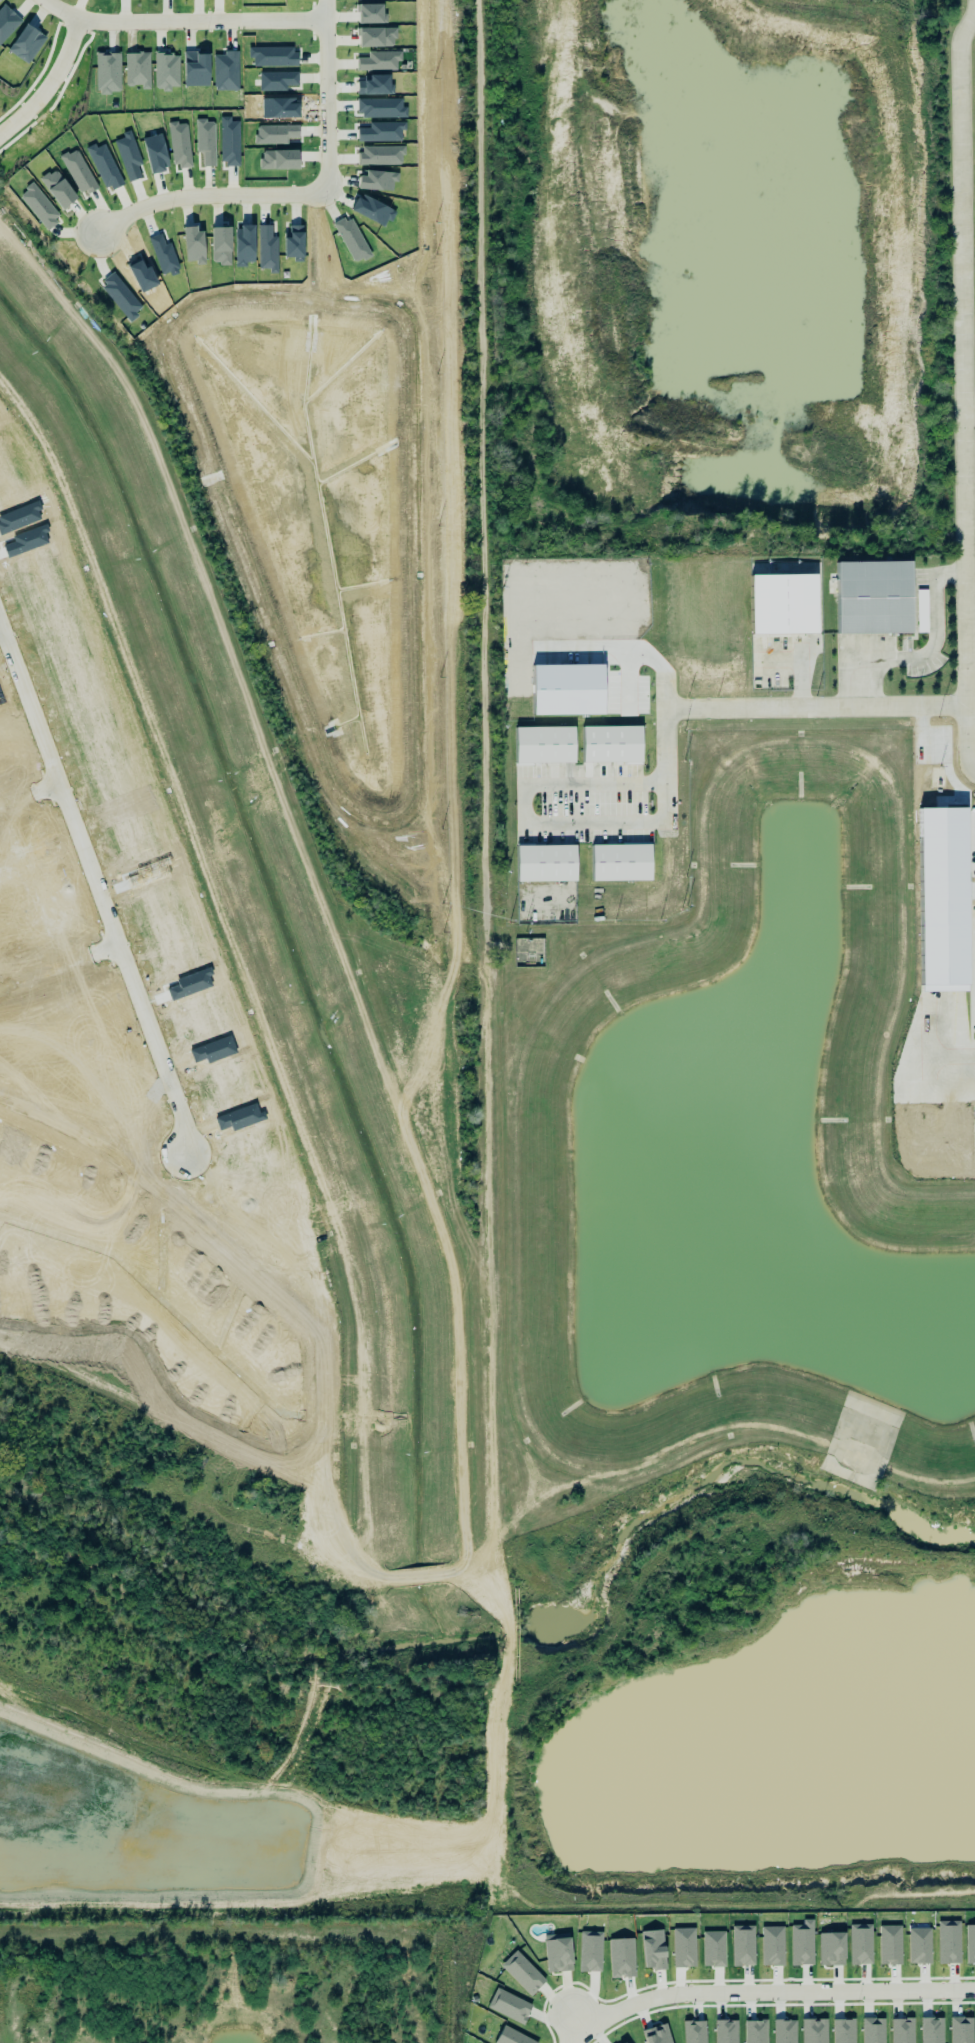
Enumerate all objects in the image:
building: (0, 0)
road: (183, 20)
building: (7, 22)
building: (26, 43)
building: (137, 69)
building: (196, 69)
building: (166, 70)
building: (226, 70)
building: (108, 72)
road: (49, 82)
road: (290, 194)
road: (964, 391)
road: (970, 411)
building: (873, 597)
building: (783, 603)
building: (922, 610)
road: (1, 623)
road: (624, 652)
building: (567, 689)
road: (971, 703)
road: (915, 706)
road: (661, 714)
building: (544, 744)
building: (611, 744)
road: (31, 795)
building: (621, 862)
building: (545, 863)
road: (100, 883)
road: (62, 966)
building: (801, 1941)
building: (948, 1942)
building: (918, 1943)
building: (970, 1943)
building: (860, 1944)
building: (889, 1944)
building: (742, 1945)
building: (772, 1945)
building: (684, 1947)
building: (713, 1948)
building: (831, 1948)
building: (652, 1949)
building: (556, 1951)
building: (590, 1951)
building: (621, 1957)
building: (521, 1969)
road: (764, 1994)
building: (511, 2004)
building: (873, 2030)
building: (902, 2030)
building: (931, 2030)
building: (961, 2030)
building: (694, 2031)
building: (725, 2031)
building: (755, 2031)
building: (784, 2031)
building: (814, 2031)
building: (843, 2031)
building: (657, 2034)
building: (511, 2036)
building: (620, 2041)

